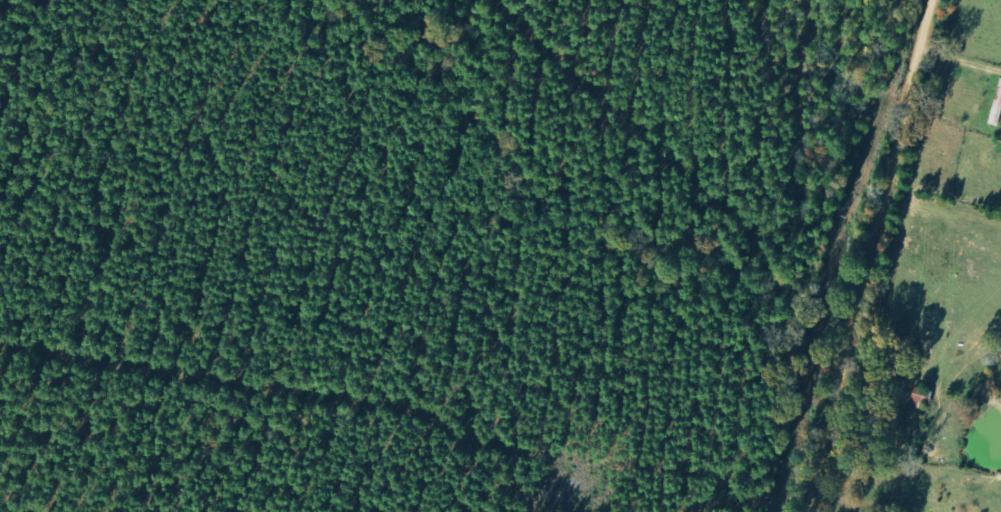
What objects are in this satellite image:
road: (898, 256)

